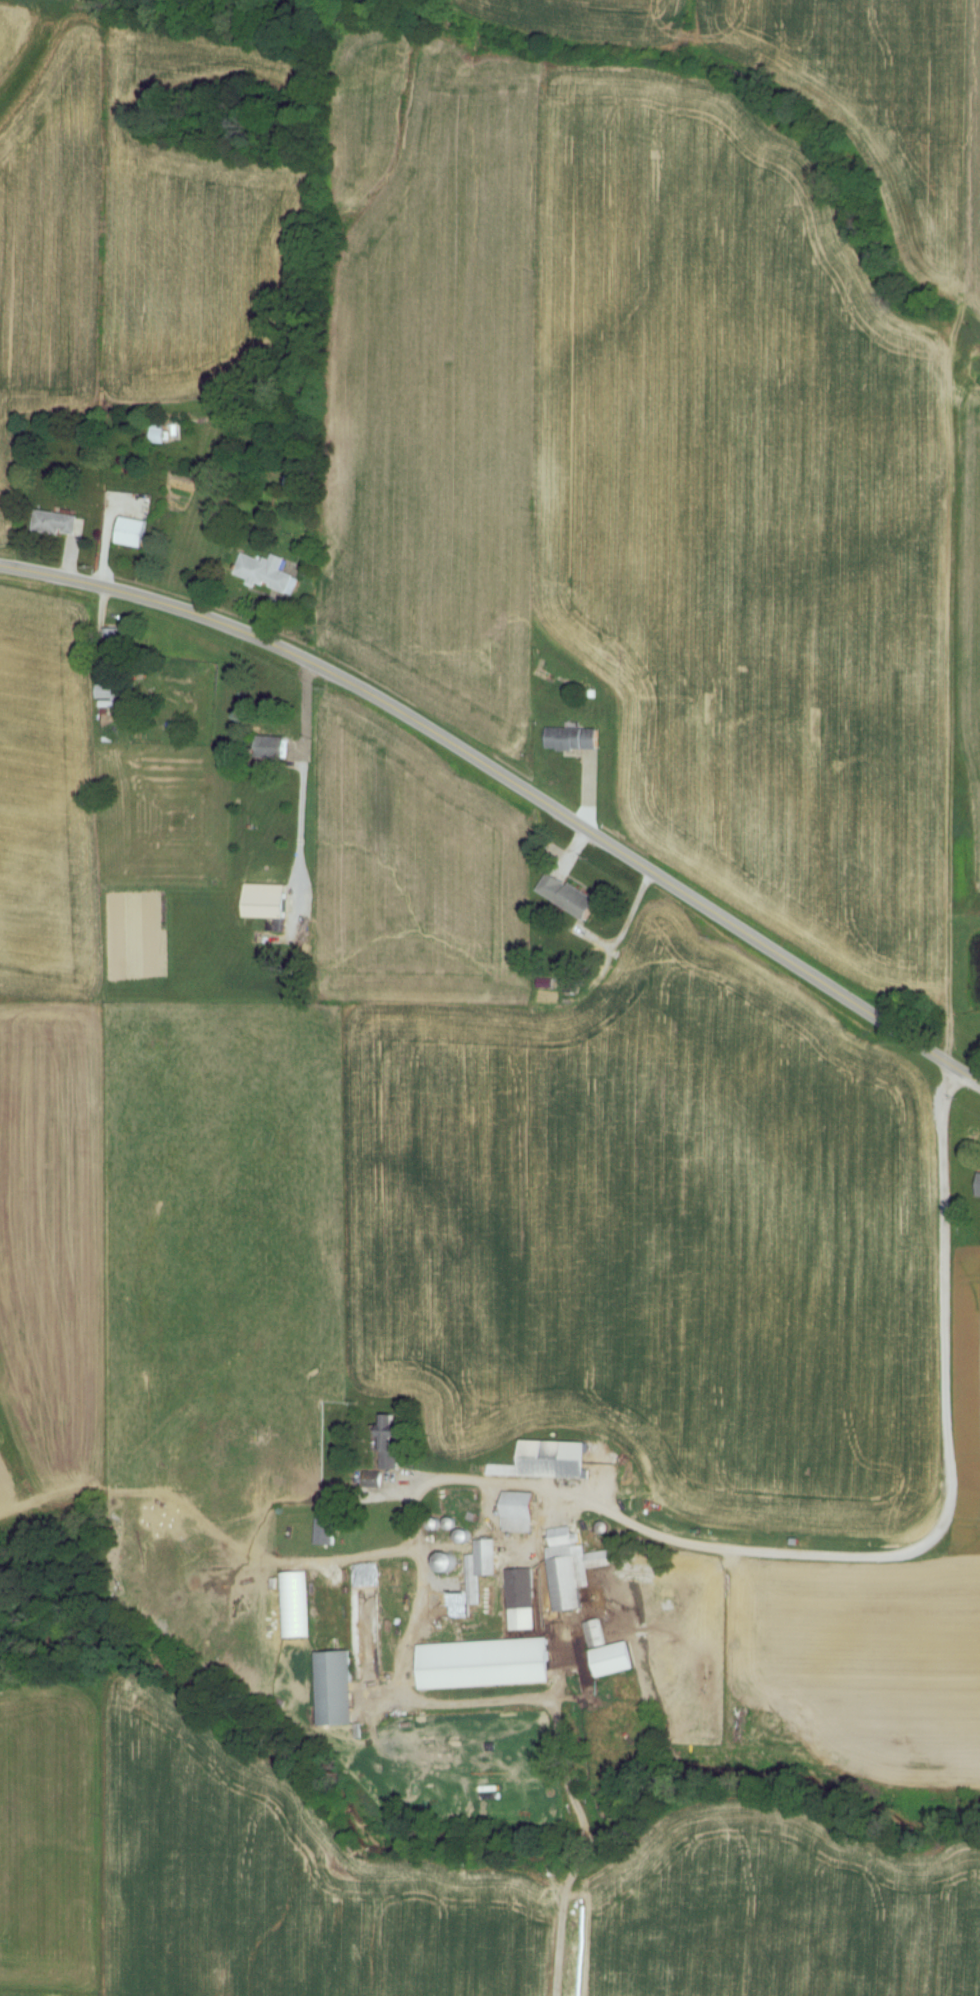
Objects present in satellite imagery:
building: (159, 433)
building: (300, 484)
building: (60, 524)
building: (133, 532)
building: (269, 573)
building: (116, 641)
building: (109, 691)
building: (574, 738)
building: (274, 747)
road: (305, 769)
road: (510, 779)
building: (571, 896)
building: (267, 904)
road: (976, 1078)
building: (979, 1191)
building: (394, 1442)
building: (557, 1459)
building: (520, 1512)
building: (327, 1529)
road: (896, 1552)
building: (489, 1557)
building: (449, 1562)
building: (575, 1568)
building: (524, 1600)
building: (295, 1605)
building: (616, 1660)
building: (487, 1664)
building: (338, 1689)

